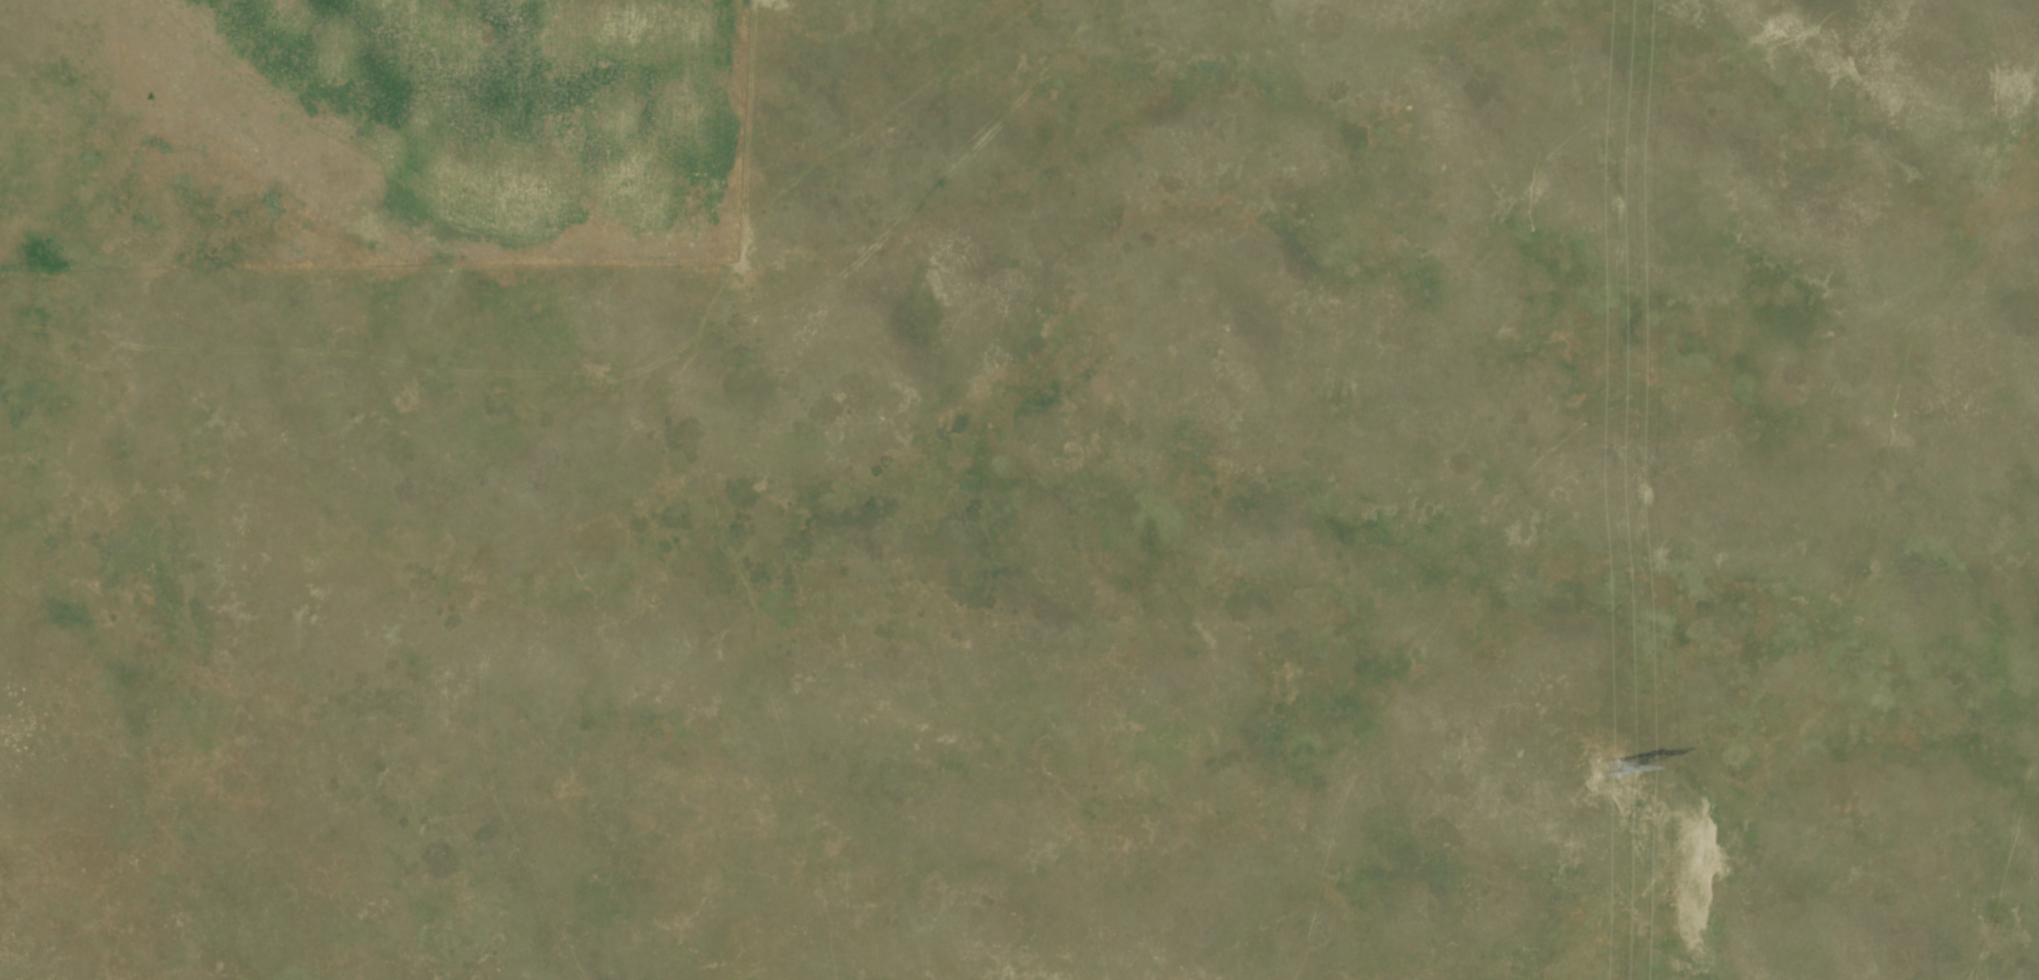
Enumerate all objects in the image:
power tower: (1607, 769)

